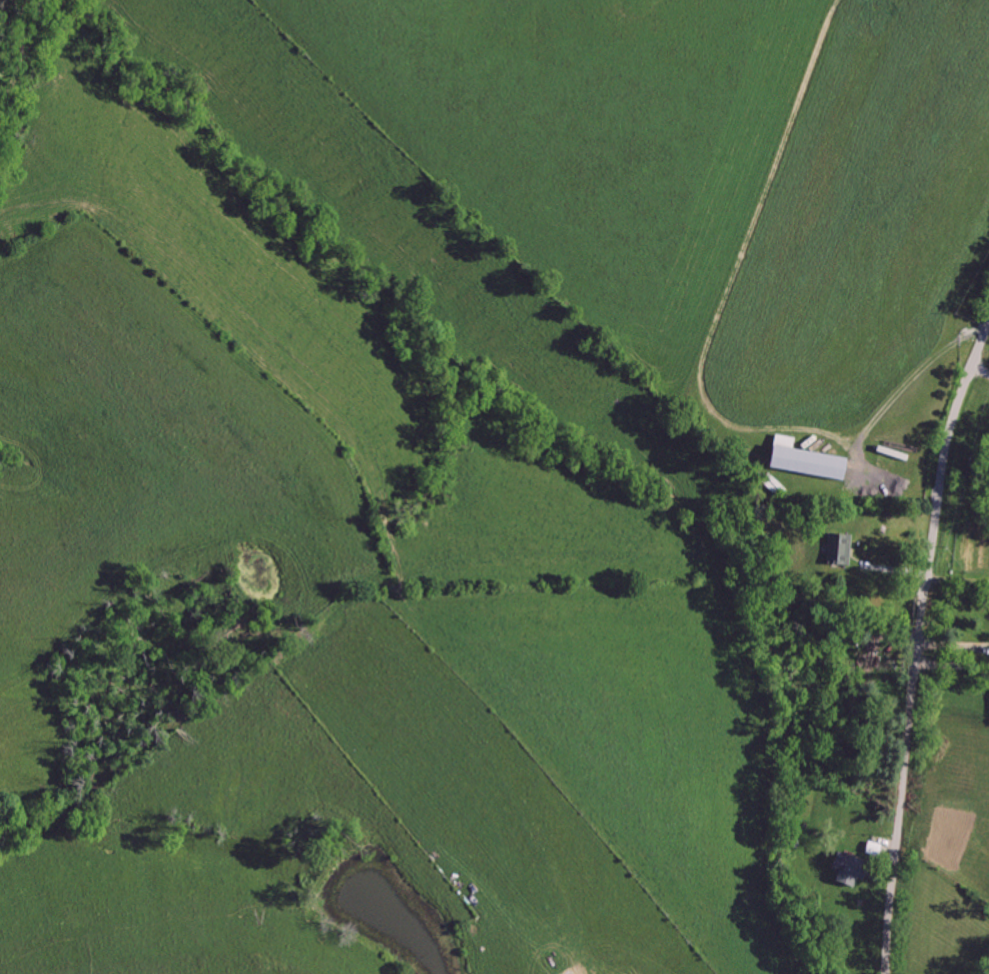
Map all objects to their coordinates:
road: (981, 366)
road: (918, 380)
building: (803, 462)
building: (837, 550)
road: (958, 580)
road: (919, 647)
building: (845, 869)

